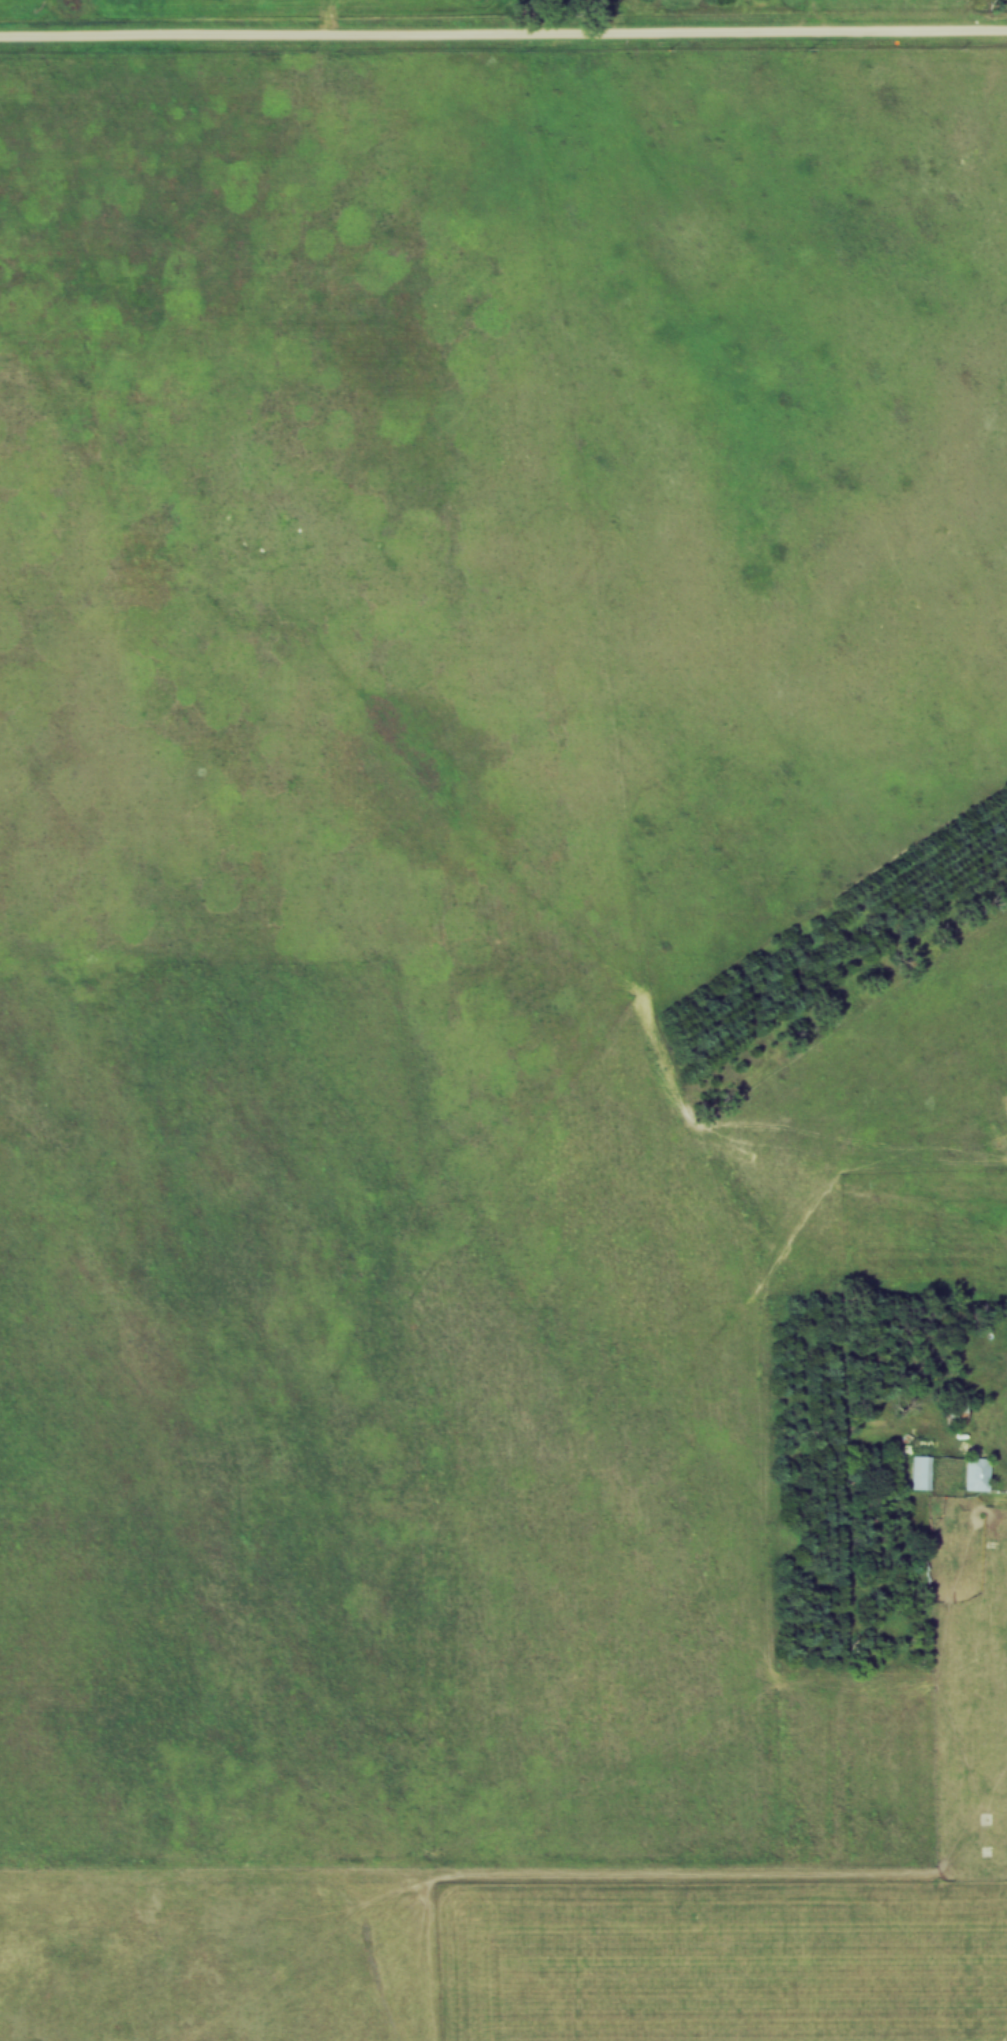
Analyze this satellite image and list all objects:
road: (811, 17)
road: (503, 38)
building: (919, 1473)
building: (975, 1474)
building: (998, 1508)

